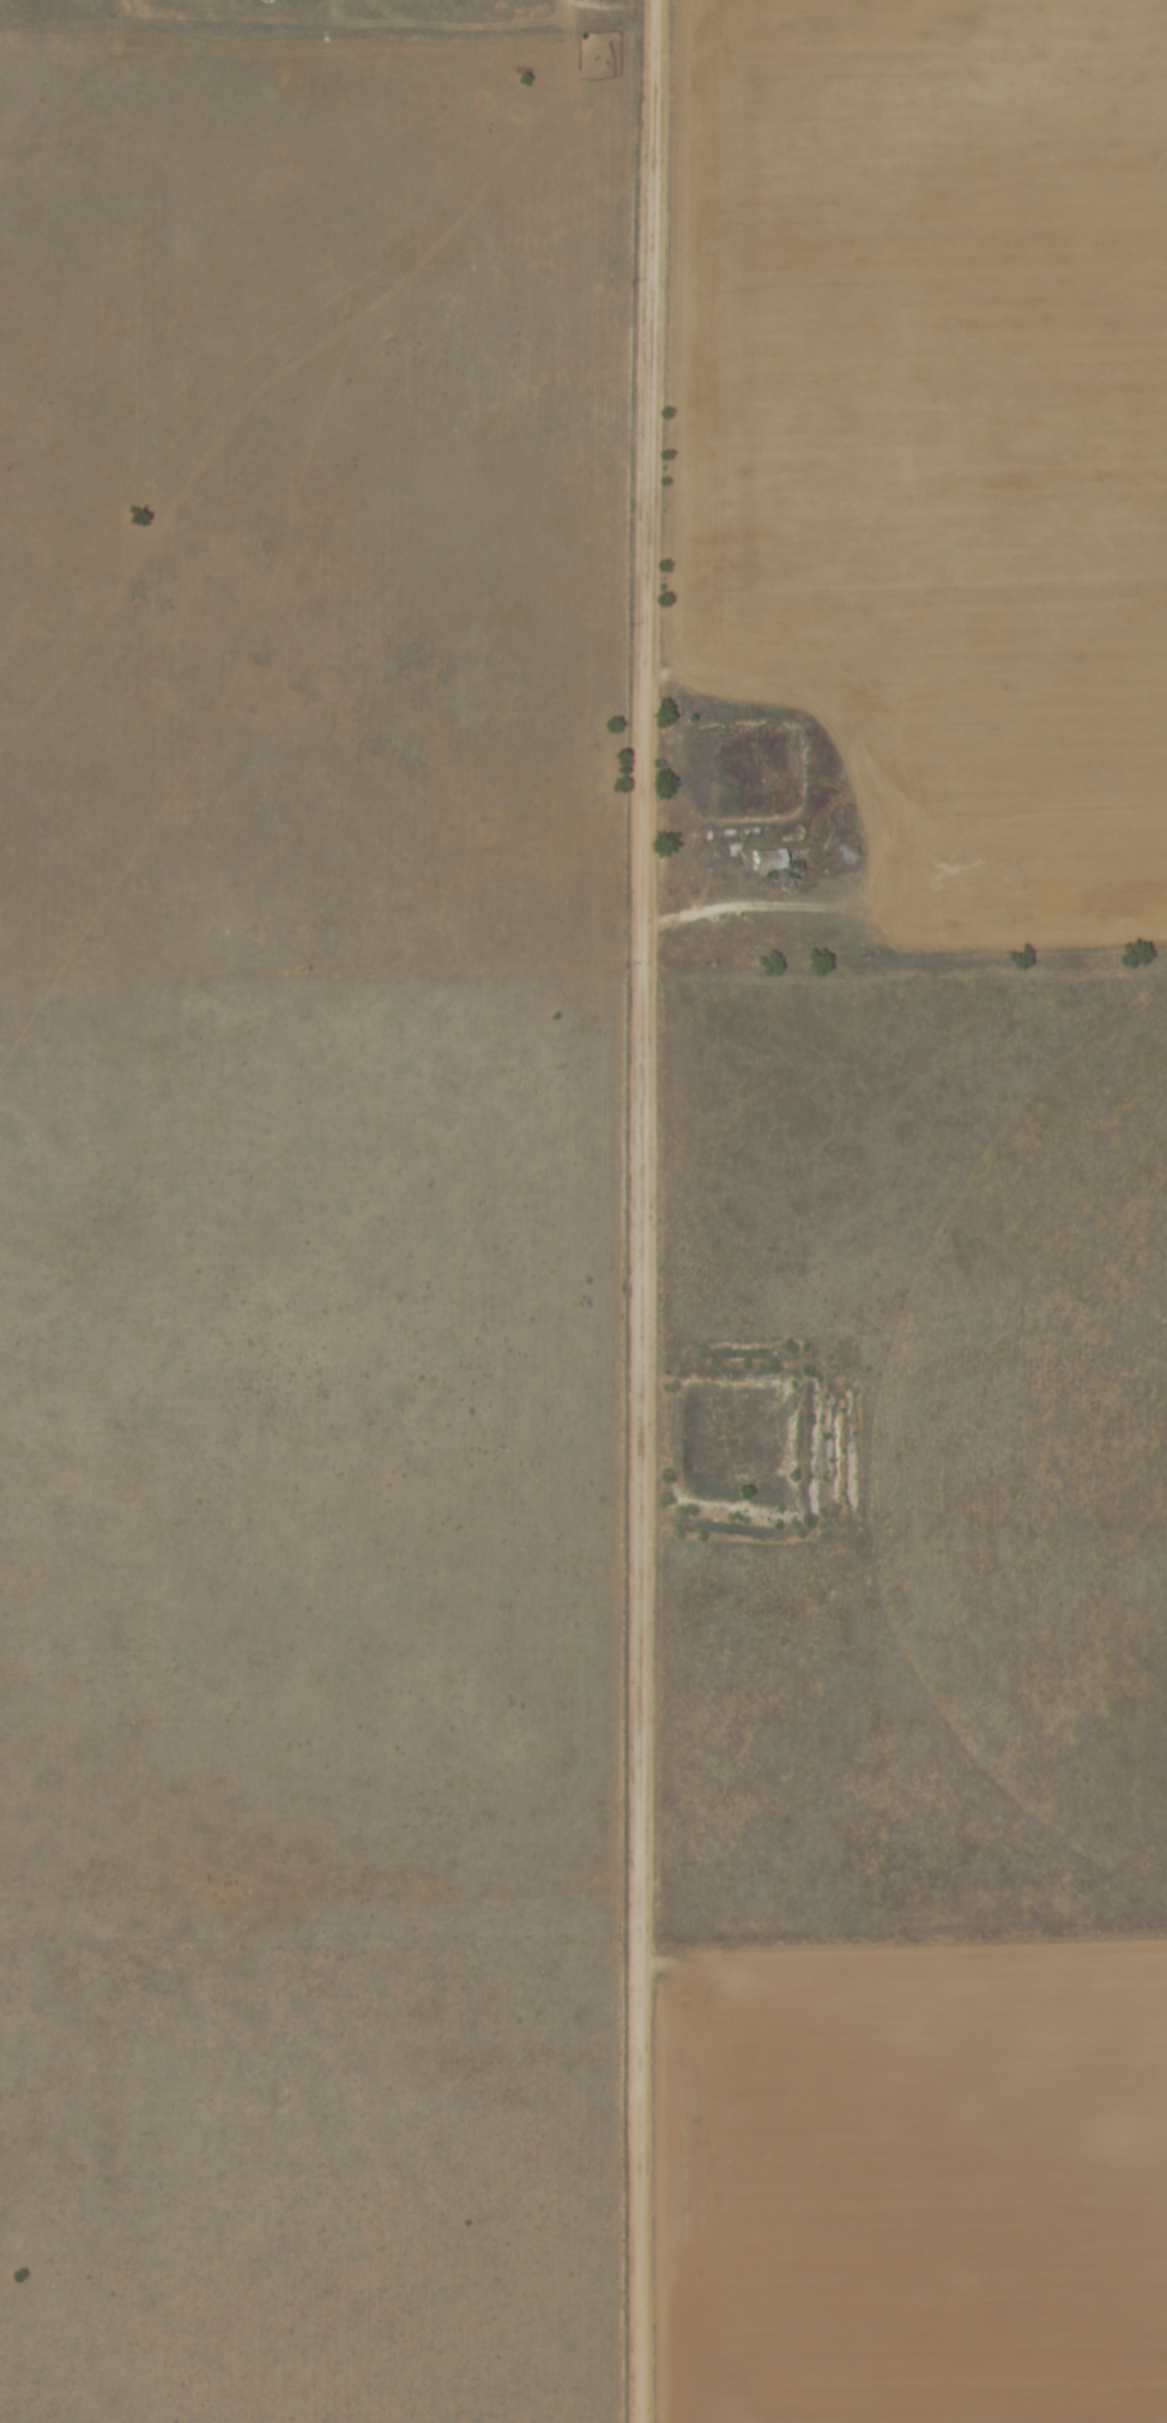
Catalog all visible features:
road: (616, 11)
road: (724, 911)
road: (645, 1210)

